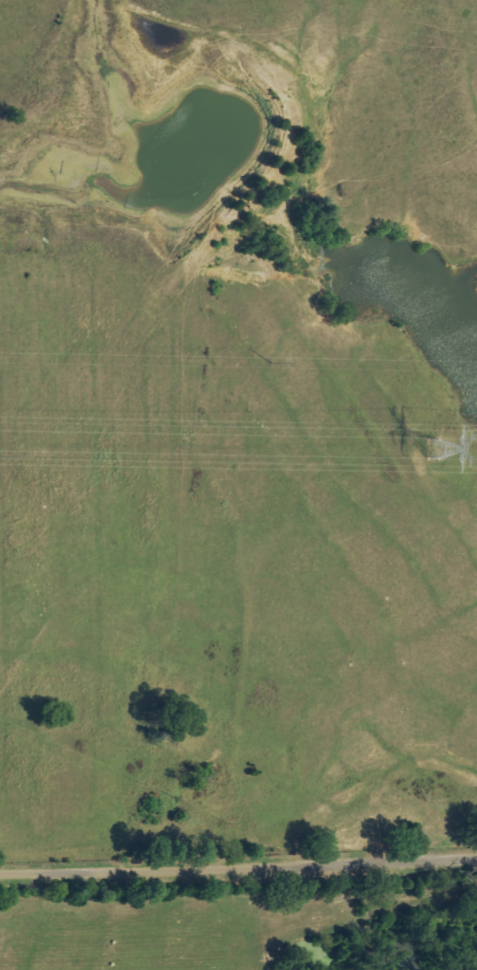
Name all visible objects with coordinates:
power tower: (436, 448)
road: (238, 892)

